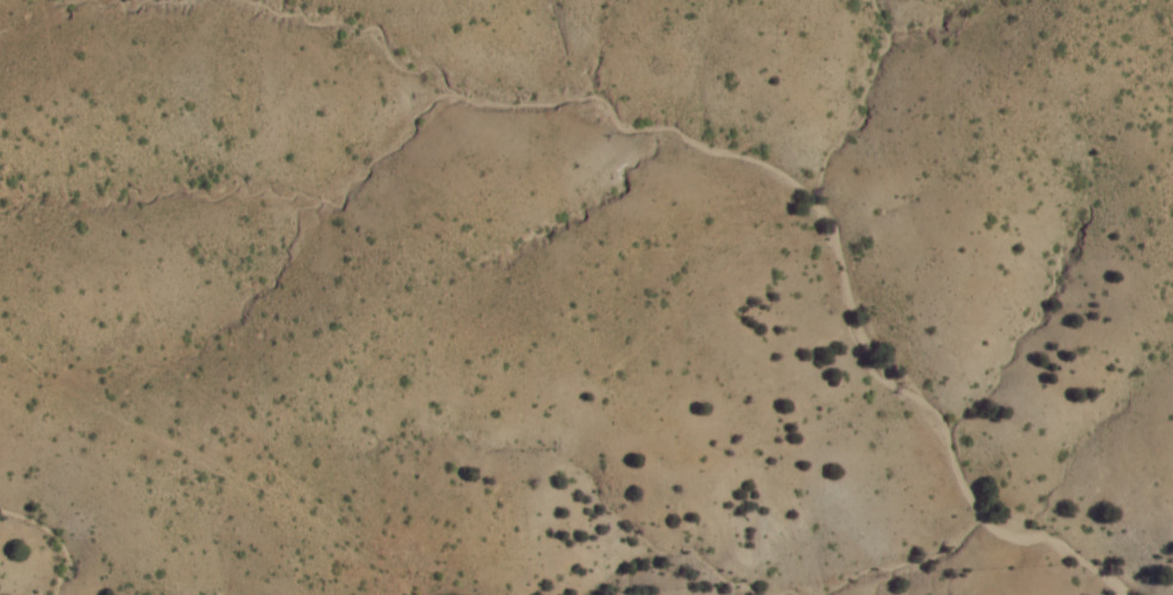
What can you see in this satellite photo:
road: (1168, 2)
road: (277, 543)

